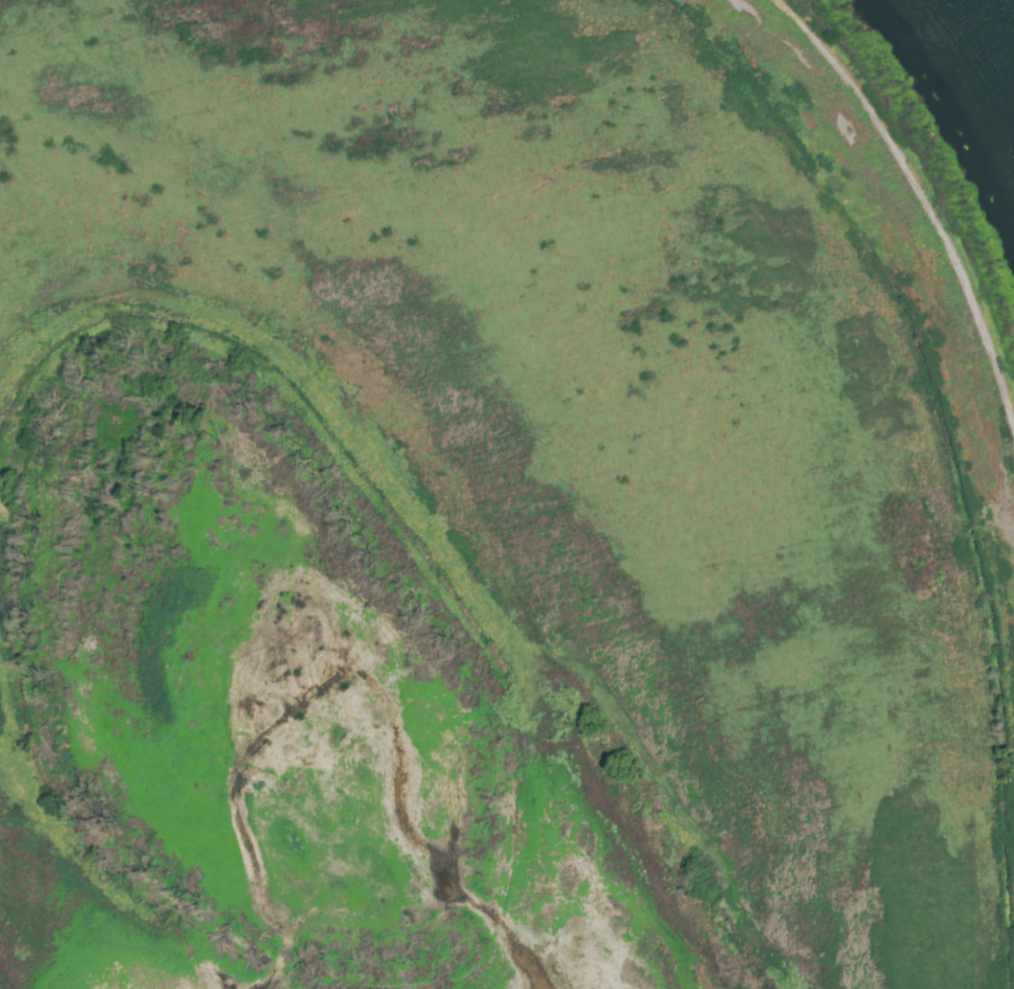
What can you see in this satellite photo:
crop: (471, 523)

